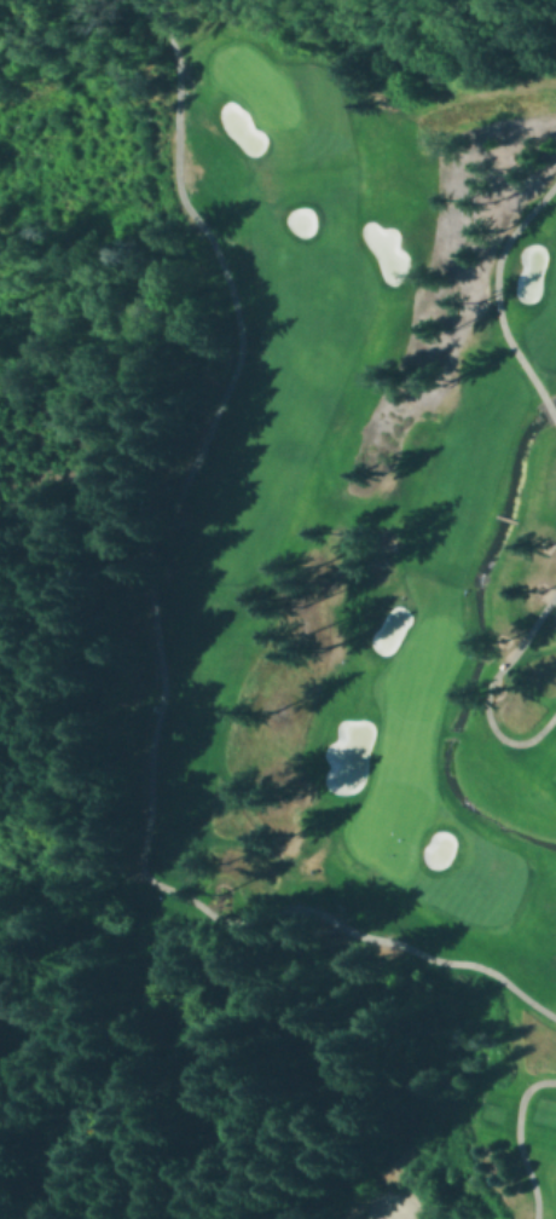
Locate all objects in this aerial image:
road: (496, 283)
road: (549, 404)
park: (351, 536)
road: (158, 640)
road: (488, 686)
road: (517, 1138)

